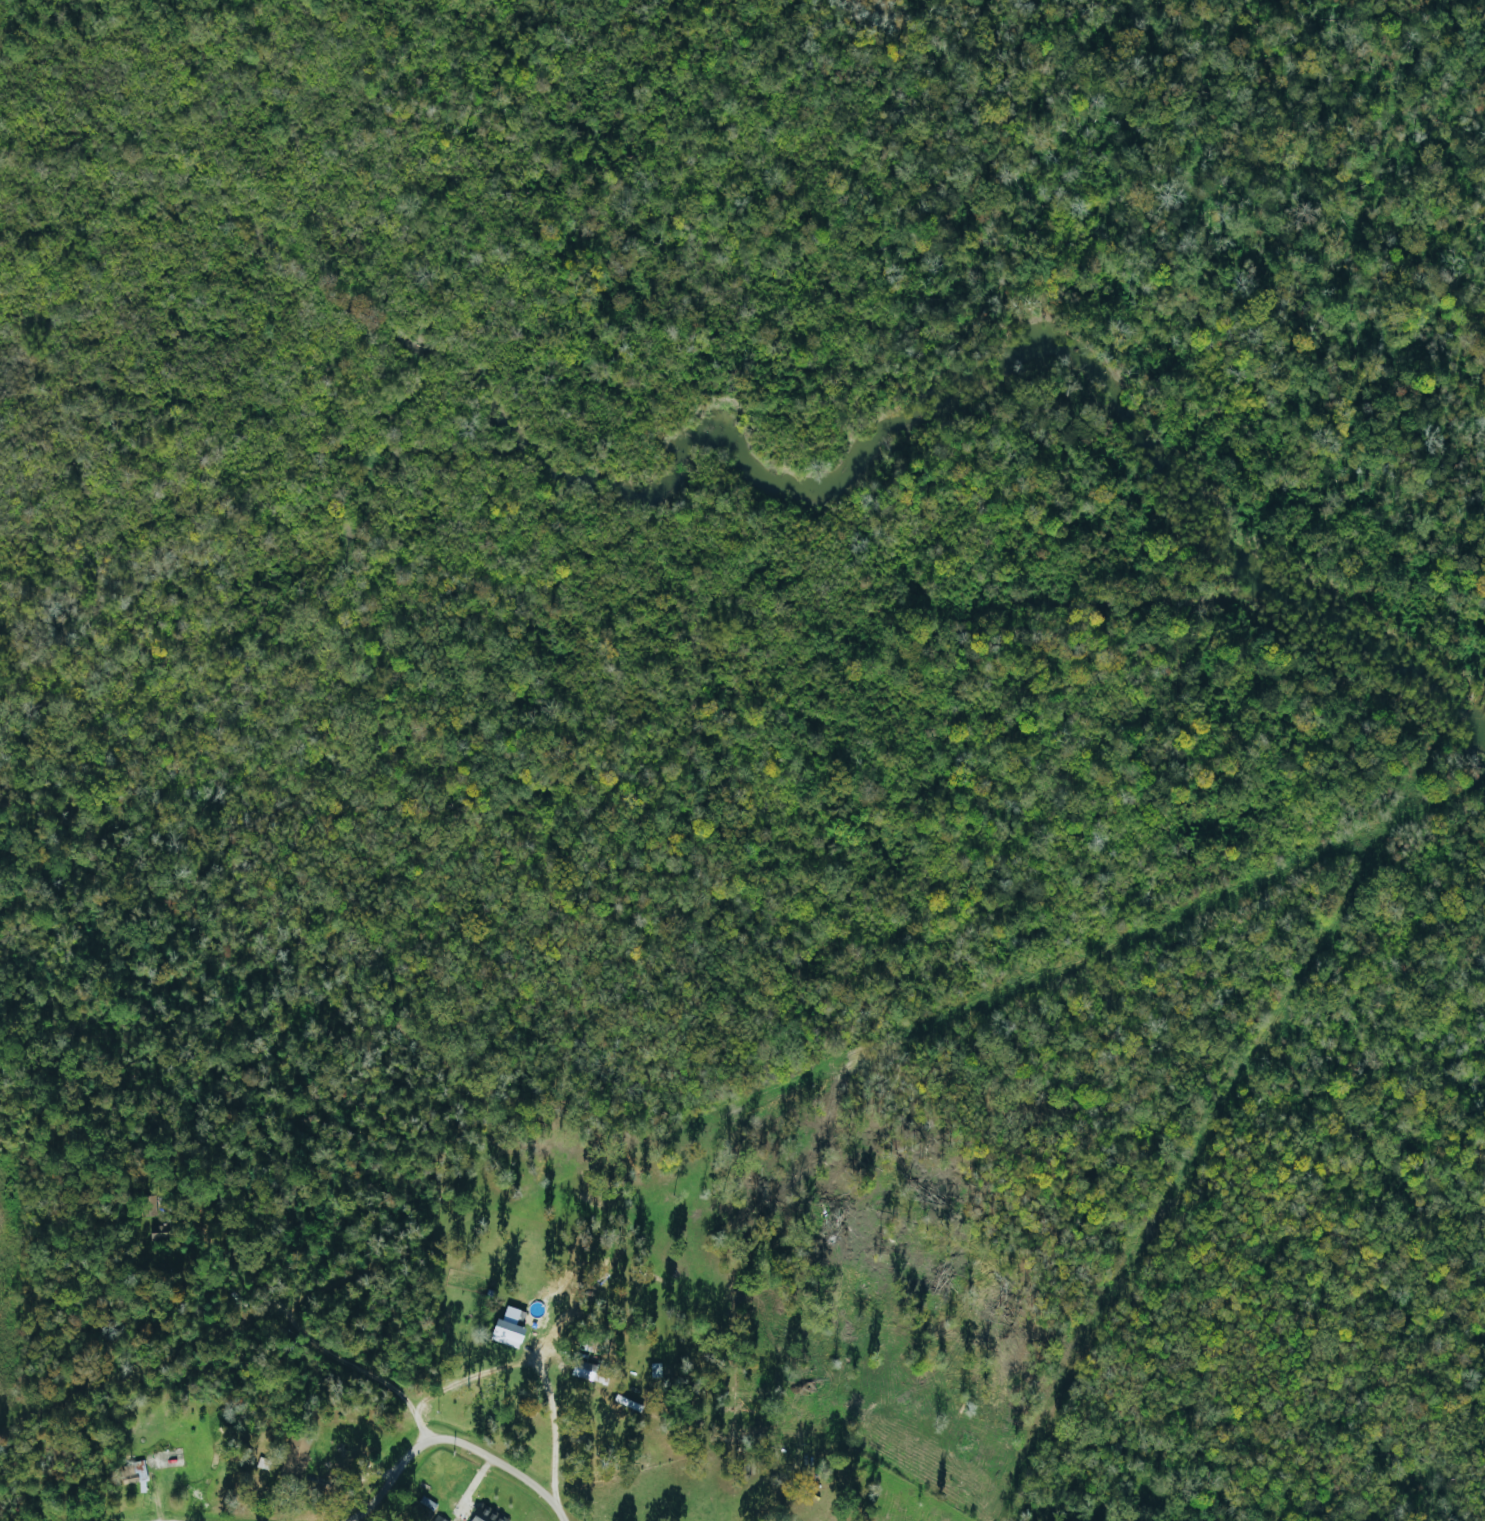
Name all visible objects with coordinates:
building: (513, 1327)
road: (307, 1336)
road: (536, 1364)
building: (130, 1470)
road: (516, 1474)
road: (387, 1485)
building: (428, 1515)
building: (487, 1515)

